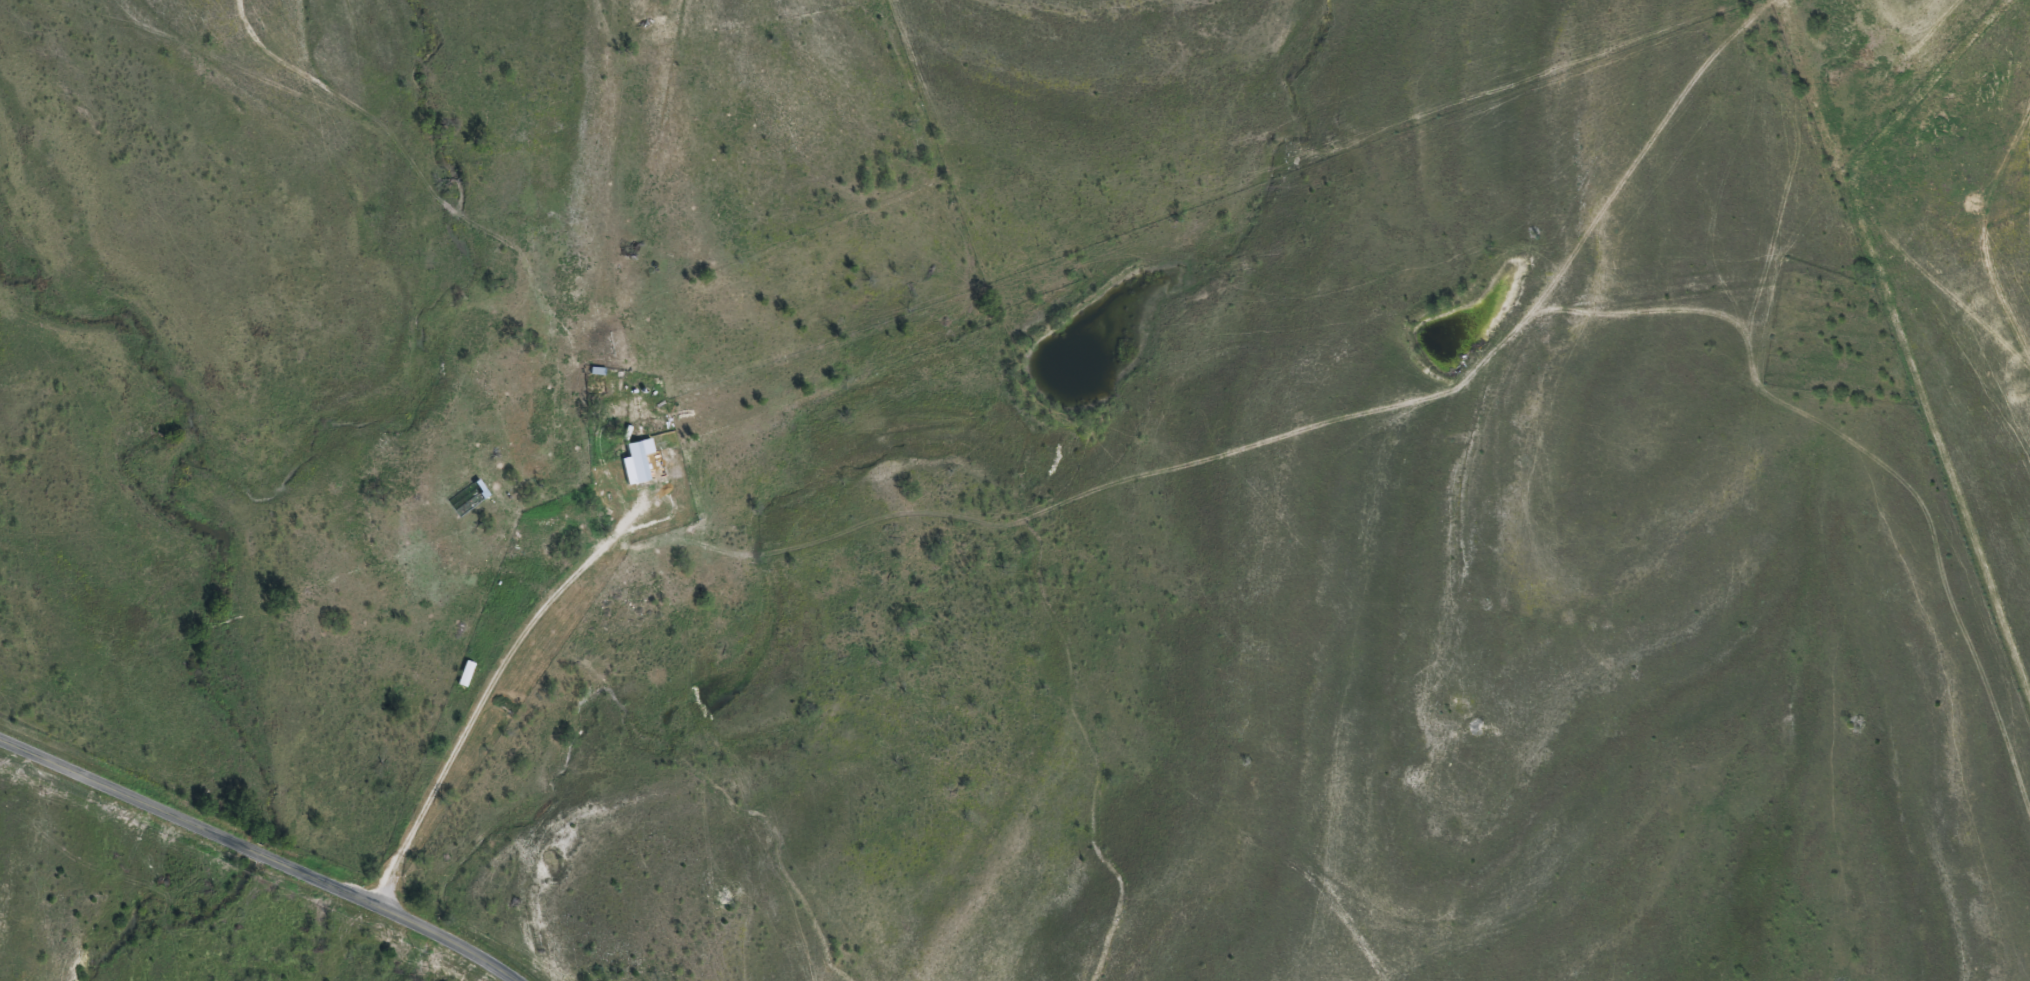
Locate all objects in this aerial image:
road: (1078, 445)
building: (633, 450)
building: (462, 674)
road: (257, 856)

